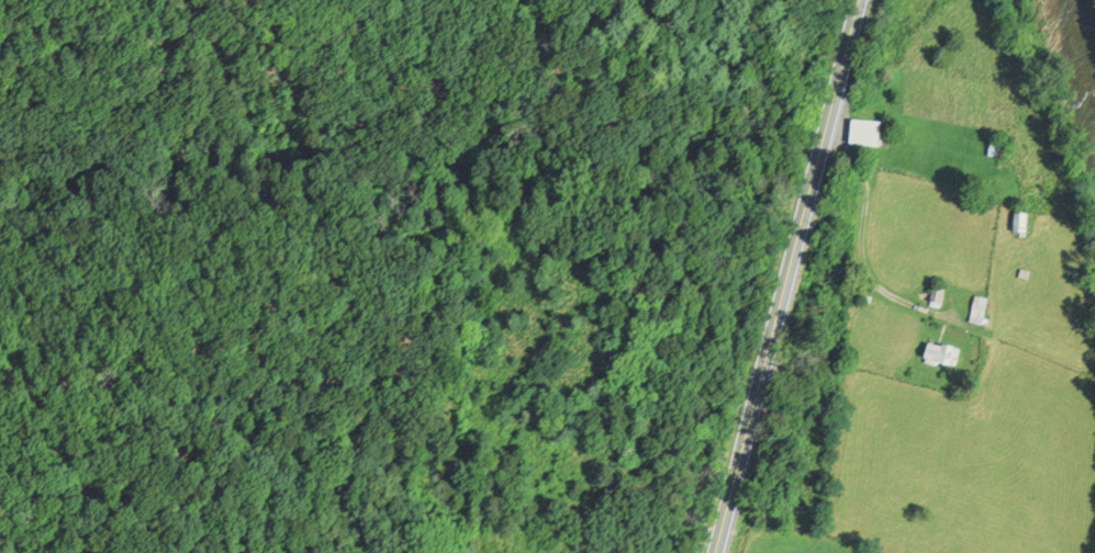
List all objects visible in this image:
building: (867, 134)
building: (998, 149)
building: (1023, 223)
road: (861, 240)
crop: (993, 267)
road: (790, 276)
building: (938, 297)
building: (979, 312)
building: (942, 356)
crop: (965, 462)
crop: (795, 544)

